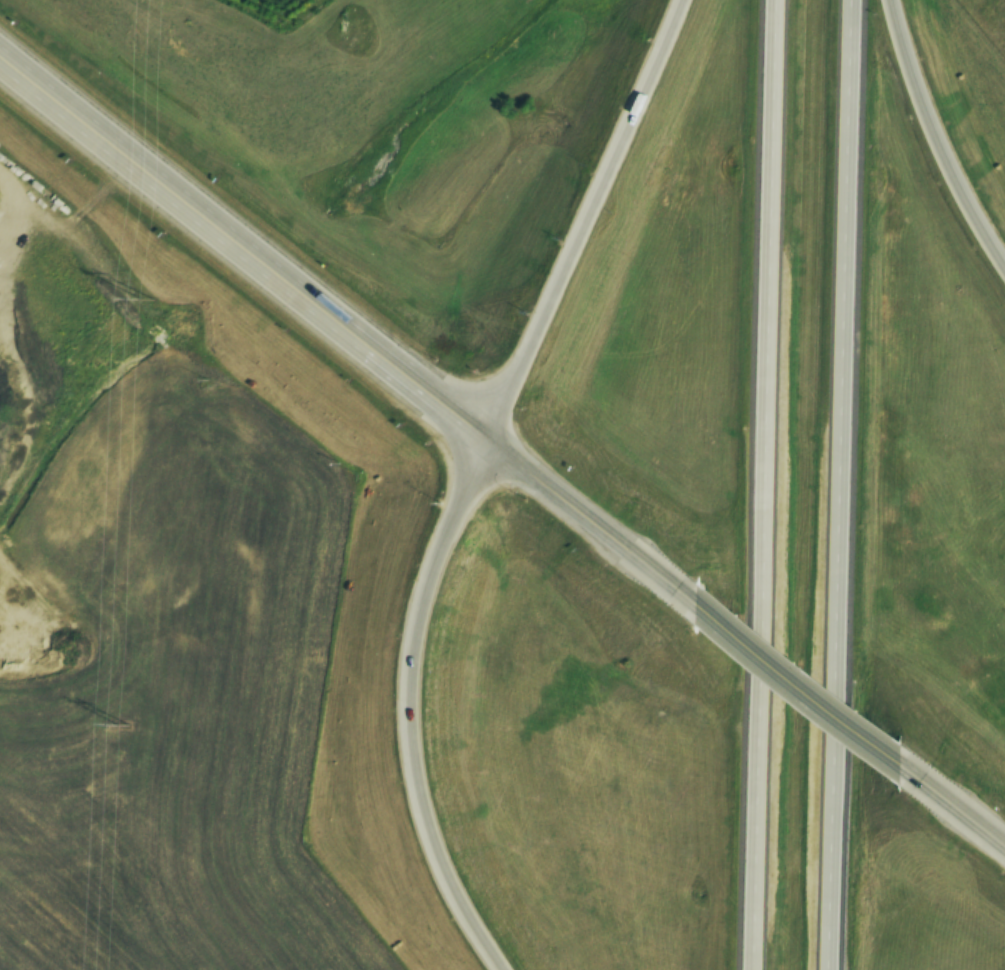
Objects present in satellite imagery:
road: (940, 128)
road: (587, 214)
road: (236, 247)
power tower: (142, 298)
street lamp: (443, 477)
road: (768, 485)
road: (846, 485)
road: (597, 514)
road: (807, 680)
road: (406, 702)
power tower: (116, 724)
road: (954, 797)

